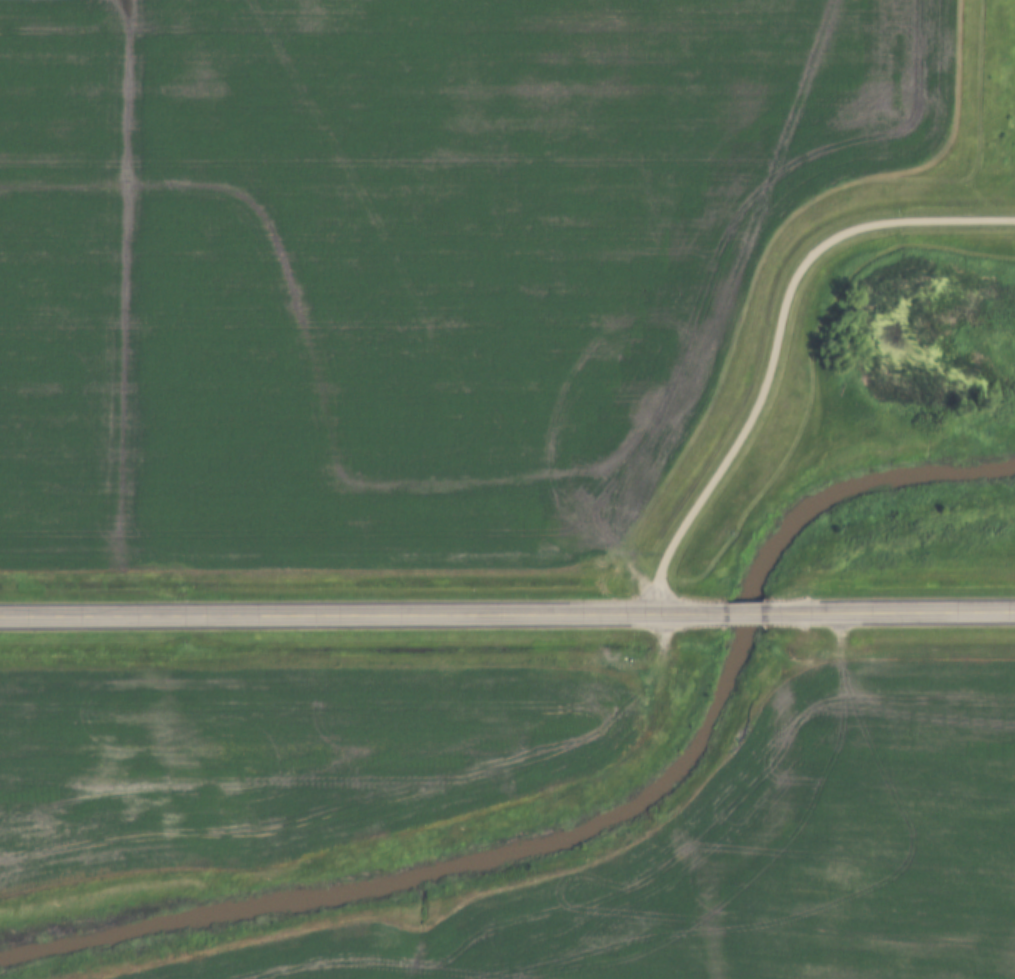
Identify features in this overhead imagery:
crop: (407, 259)
road: (775, 337)
road: (909, 610)
road: (740, 612)
road: (338, 614)
crop: (280, 758)
crop: (738, 859)

